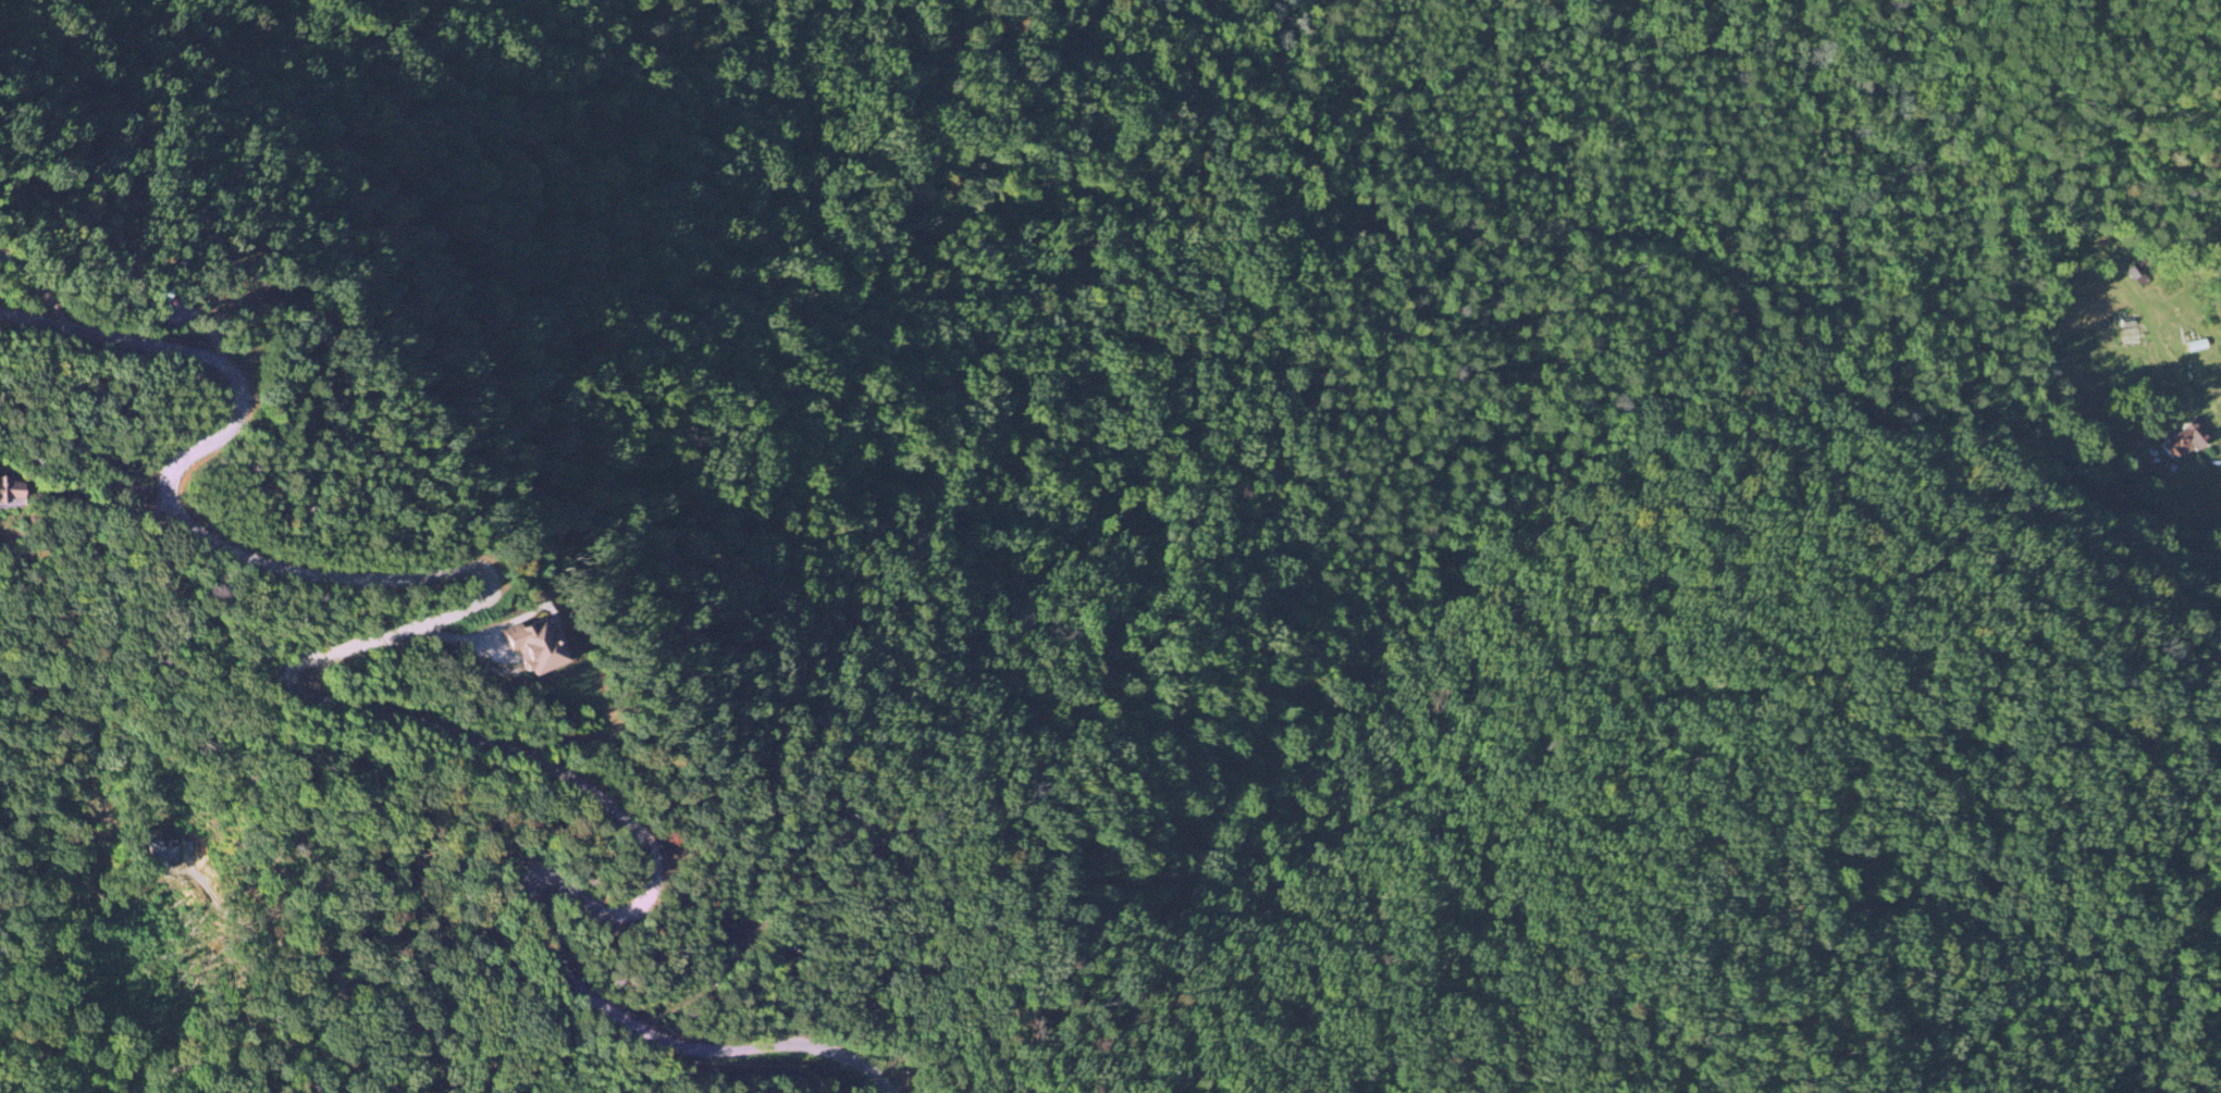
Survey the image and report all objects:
building: (2184, 440)
building: (11, 492)
road: (434, 568)
building: (538, 646)
road: (593, 1004)
road: (329, 1007)

